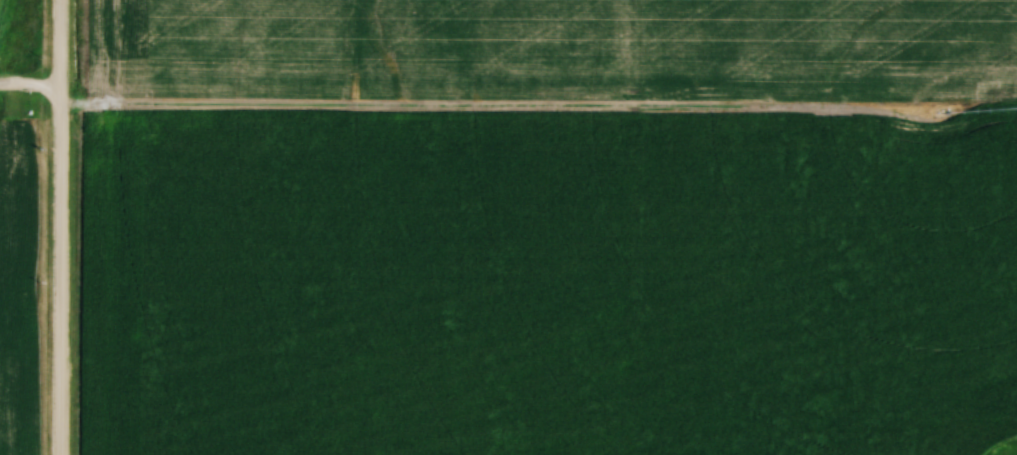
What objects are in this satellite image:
road: (31, 92)
road: (63, 227)
building: (732, 233)

